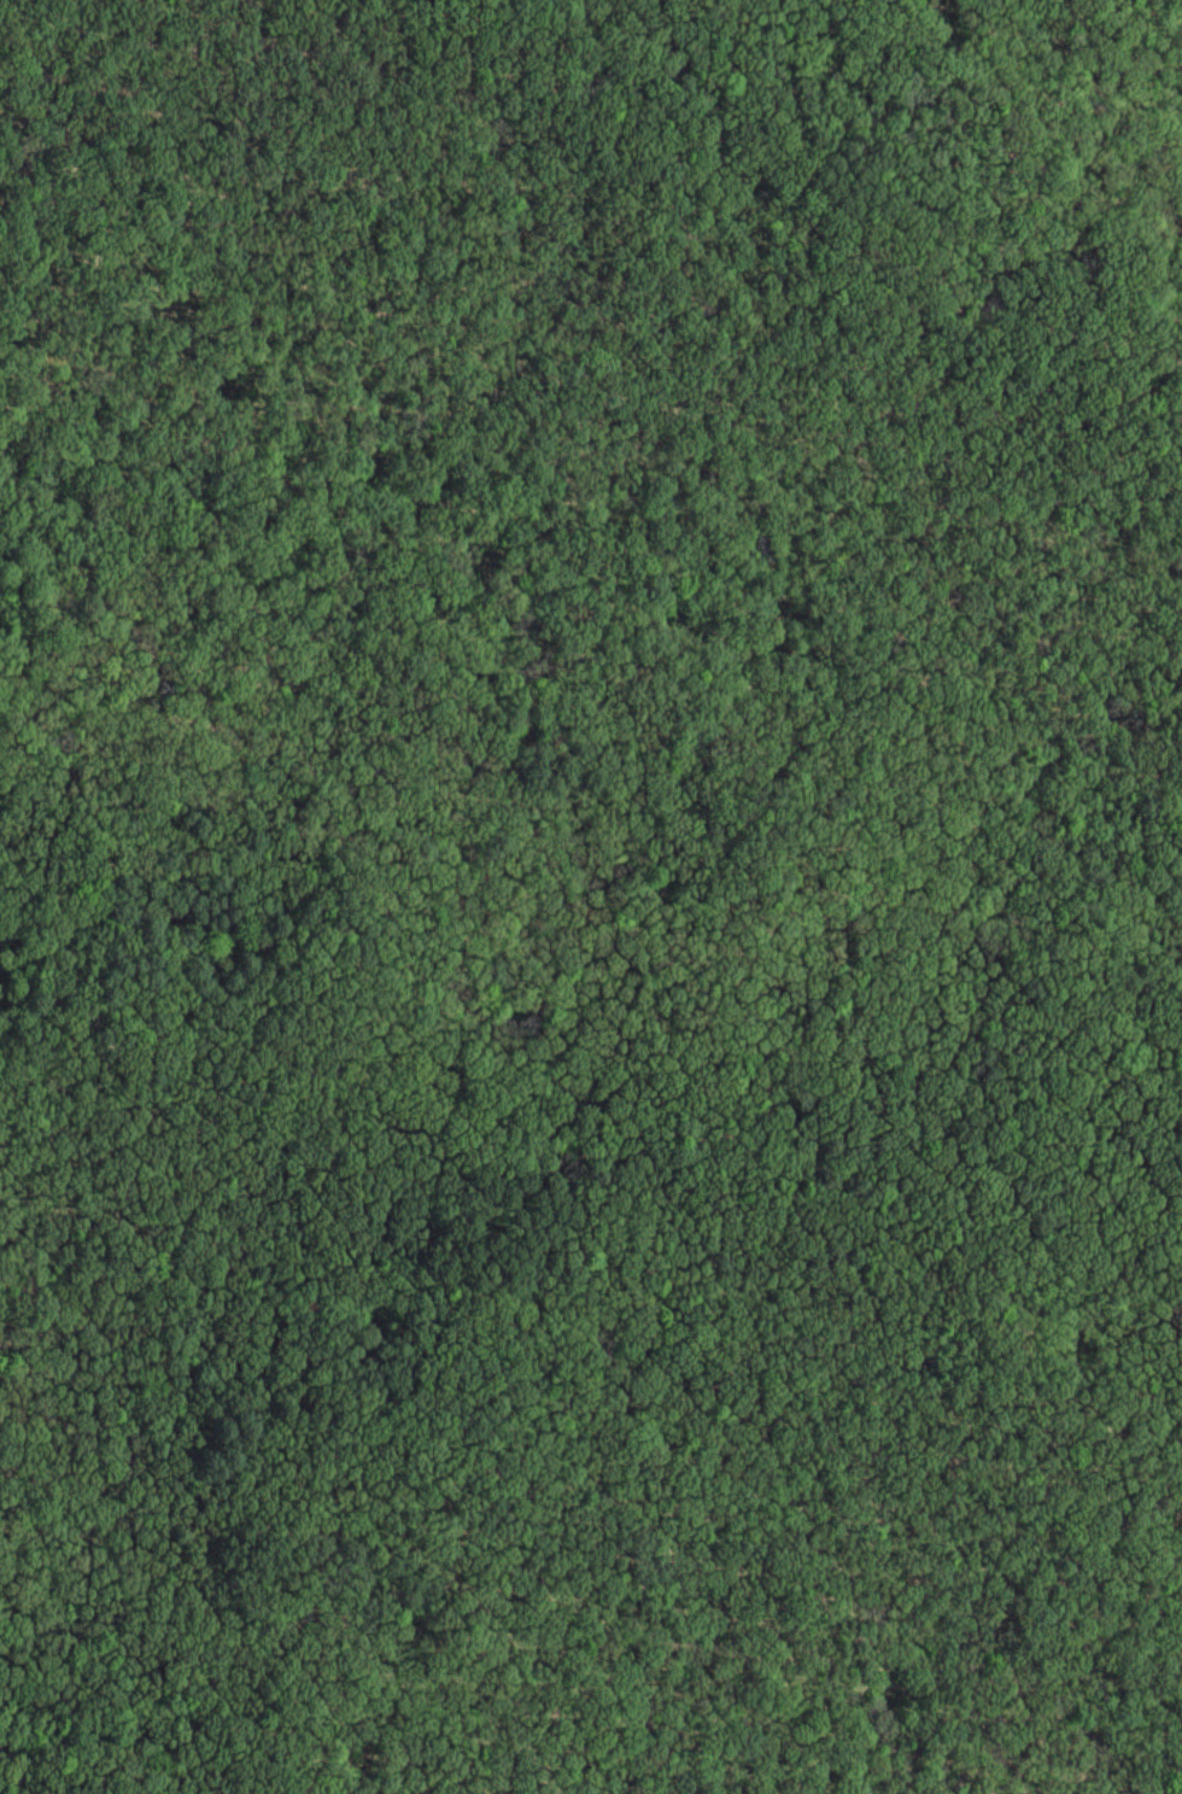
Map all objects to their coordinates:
road: (228, 451)

